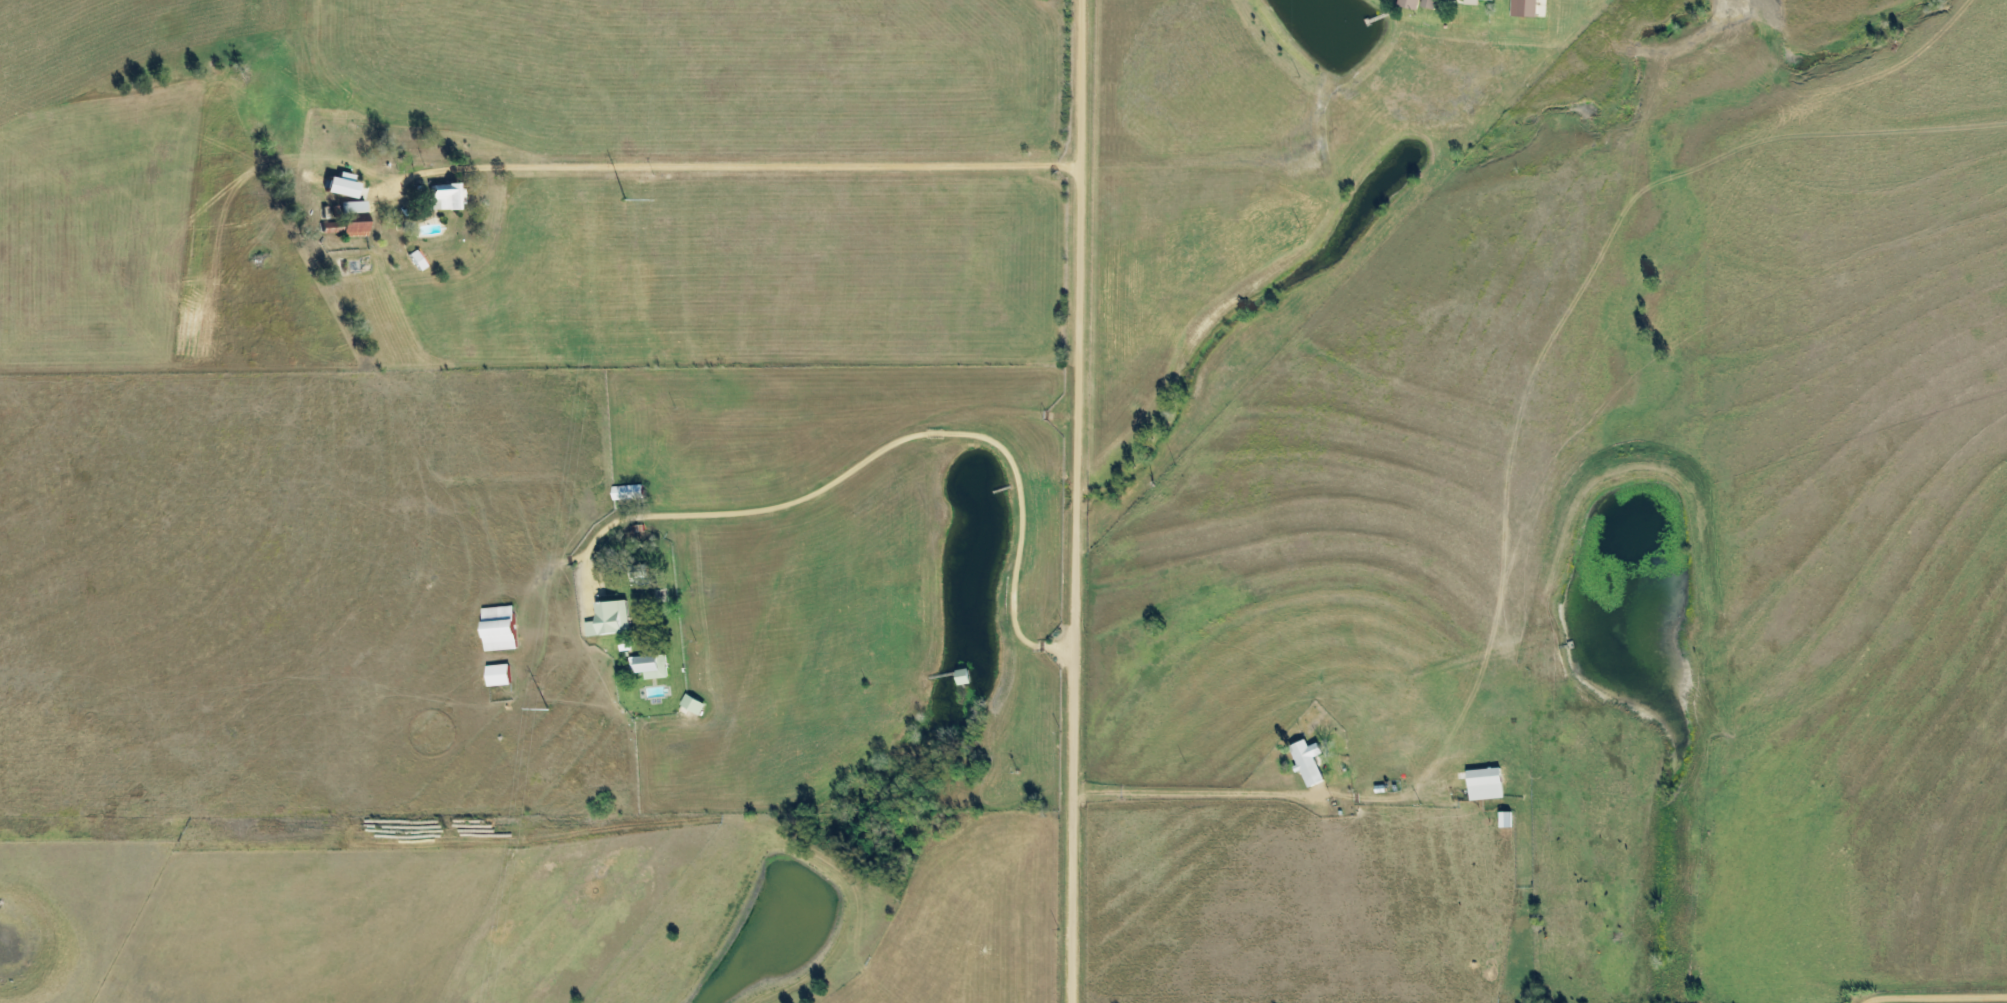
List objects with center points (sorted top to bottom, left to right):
building: (1471, 2)
building: (1428, 3)
building: (1408, 4)
building: (1524, 7)
road: (804, 156)
building: (340, 186)
building: (444, 197)
power tower: (625, 201)
building: (352, 208)
building: (352, 228)
building: (417, 259)
road: (880, 440)
building: (626, 492)
road: (1082, 501)
building: (609, 619)
building: (498, 628)
building: (649, 666)
building: (497, 675)
building: (692, 704)
power tower: (547, 711)
building: (1307, 761)
building: (1484, 784)
building: (1505, 819)

